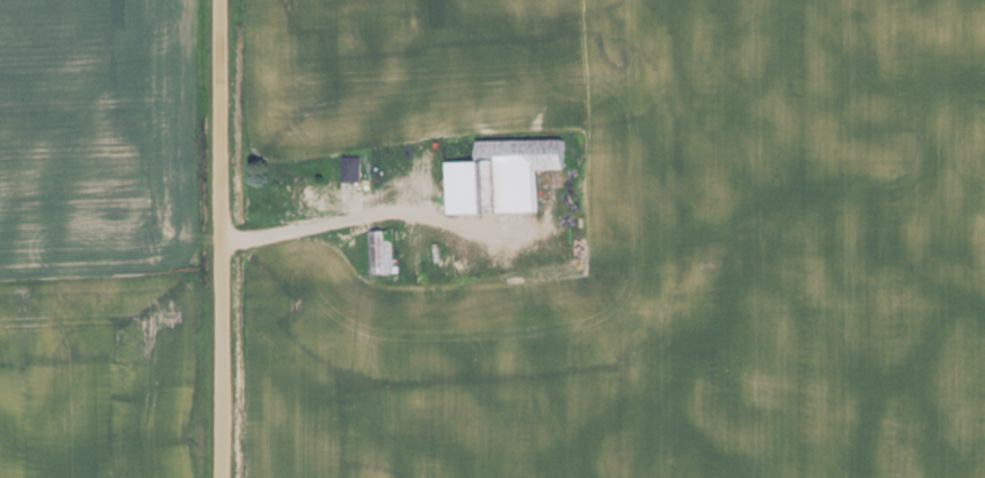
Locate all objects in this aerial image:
building: (358, 168)
building: (516, 176)
road: (218, 239)
building: (383, 252)

